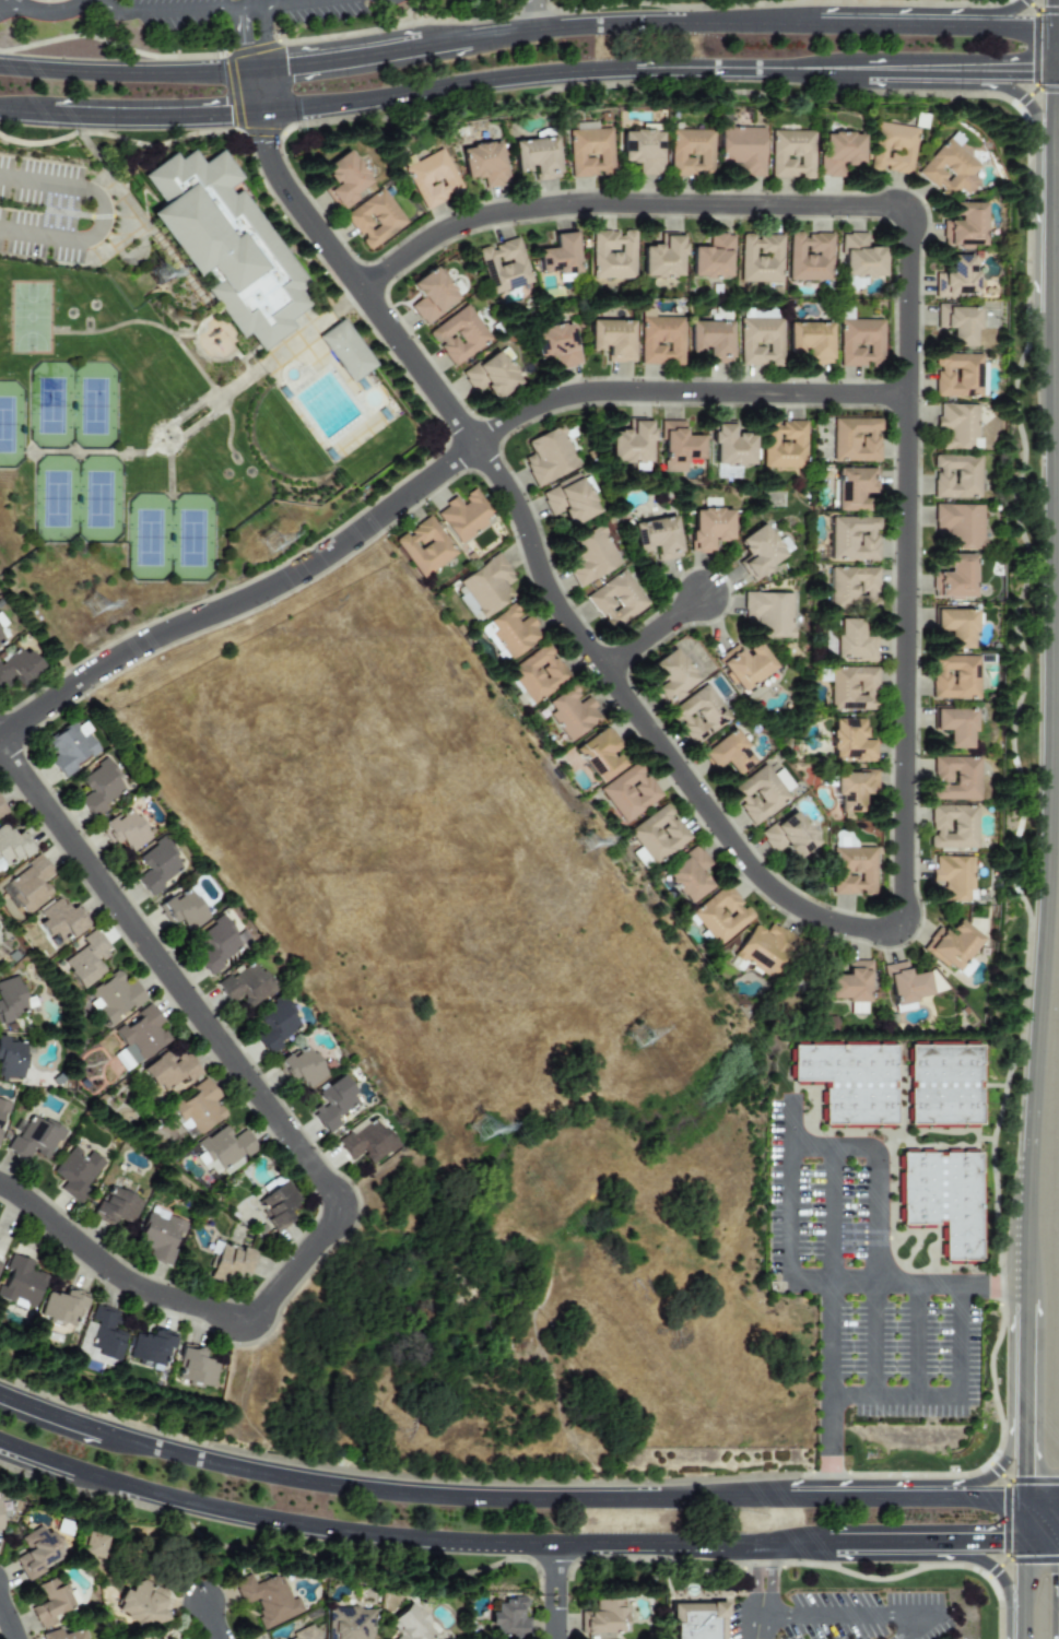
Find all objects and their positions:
road: (11, 3)
road: (243, 4)
traffic signals: (1050, 4)
road: (267, 5)
road: (316, 5)
road: (170, 10)
road: (254, 10)
road: (999, 12)
road: (1050, 12)
road: (45, 13)
road: (540, 13)
road: (642, 21)
road: (896, 23)
road: (1013, 24)
road: (1055, 26)
park: (75, 30)
road: (444, 40)
road: (264, 42)
road: (243, 43)
road: (1050, 48)
road: (339, 57)
traffic signals: (286, 66)
road: (1055, 69)
road: (620, 70)
road: (128, 71)
road: (1015, 71)
traffic signals: (1031, 72)
road: (260, 92)
road: (1026, 105)
traffic signals: (223, 115)
road: (1050, 115)
road: (130, 117)
traffic signals: (266, 143)
building: (891, 149)
building: (741, 150)
building: (588, 151)
building: (642, 151)
building: (690, 153)
building: (837, 153)
building: (790, 154)
building: (536, 157)
building: (483, 164)
building: (950, 168)
building: (343, 179)
building: (432, 179)
road: (626, 204)
road: (103, 216)
building: (374, 220)
building: (964, 225)
road: (1052, 236)
building: (226, 241)
building: (612, 255)
building: (558, 256)
building: (811, 257)
building: (861, 257)
building: (663, 258)
building: (713, 258)
building: (762, 258)
building: (503, 266)
power tower: (163, 274)
building: (956, 278)
building: (430, 295)
building: (760, 314)
park: (30, 317)
building: (957, 323)
road: (1055, 334)
building: (458, 335)
building: (611, 340)
building: (659, 340)
building: (710, 340)
building: (761, 342)
building: (810, 342)
building: (860, 343)
building: (555, 345)
building: (345, 351)
building: (491, 376)
building: (956, 376)
park: (95, 403)
park: (51, 404)
road: (1055, 405)
park: (10, 424)
building: (957, 426)
building: (855, 439)
building: (629, 444)
building: (784, 445)
building: (676, 447)
building: (548, 457)
road: (1057, 468)
building: (956, 476)
road: (427, 480)
building: (852, 487)
park: (58, 500)
building: (567, 500)
park: (103, 502)
building: (463, 515)
building: (958, 526)
building: (708, 529)
park: (149, 535)
park: (192, 538)
building: (655, 538)
building: (852, 539)
power tower: (273, 544)
building: (424, 546)
building: (760, 551)
building: (589, 556)
road: (906, 568)
road: (540, 569)
building: (954, 577)
building: (487, 586)
building: (852, 589)
building: (615, 600)
building: (467, 604)
power tower: (95, 606)
building: (769, 614)
building: (955, 627)
road: (656, 632)
building: (507, 634)
building: (1, 639)
building: (852, 641)
building: (745, 665)
building: (17, 668)
building: (538, 673)
building: (670, 675)
building: (954, 677)
building: (851, 688)
building: (572, 714)
building: (697, 715)
building: (955, 727)
building: (849, 741)
building: (70, 747)
building: (727, 753)
building: (598, 755)
building: (955, 778)
building: (783, 780)
building: (99, 788)
building: (852, 789)
building: (627, 792)
building: (756, 795)
building: (1, 811)
building: (953, 827)
building: (125, 830)
building: (657, 834)
building: (788, 836)
power tower: (585, 846)
building: (12, 847)
building: (157, 868)
building: (852, 871)
building: (686, 875)
building: (953, 877)
road: (1043, 880)
building: (27, 885)
building: (183, 910)
building: (720, 915)
building: (61, 921)
building: (951, 945)
building: (217, 946)
building: (763, 948)
building: (86, 959)
building: (965, 967)
building: (933, 981)
building: (246, 986)
building: (851, 987)
building: (904, 987)
building: (115, 998)
building: (10, 1000)
building: (275, 1025)
building: (138, 1038)
power tower: (638, 1039)
building: (11, 1059)
building: (299, 1066)
building: (169, 1072)
building: (858, 1081)
building: (952, 1084)
building: (333, 1105)
building: (197, 1108)
building: (3, 1109)
power tower: (484, 1128)
building: (33, 1139)
building: (366, 1141)
building: (222, 1149)
road: (292, 1152)
road: (879, 1154)
building: (77, 1172)
building: (952, 1199)
building: (278, 1205)
building: (114, 1207)
road: (790, 1215)
building: (158, 1236)
building: (0, 1263)
building: (232, 1264)
building: (20, 1283)
road: (907, 1287)
building: (61, 1307)
road: (831, 1324)
building: (98, 1335)
road: (873, 1342)
road: (915, 1343)
building: (149, 1347)
road: (1024, 1364)
building: (192, 1366)
road: (945, 1398)
road: (995, 1470)
traffic signals: (1023, 1474)
road: (1023, 1483)
road: (387, 1493)
road: (1040, 1498)
road: (869, 1499)
road: (982, 1499)
road: (1020, 1499)
road: (405, 1537)
road: (1039, 1541)
road: (829, 1542)
road: (887, 1542)
road: (981, 1542)
traffic signals: (992, 1543)
building: (93, 1545)
building: (35, 1553)
road: (995, 1572)
road: (1022, 1584)
road: (554, 1591)
road: (762, 1591)
building: (266, 1599)
building: (48, 1603)
building: (140, 1603)
road: (863, 1614)
building: (508, 1618)
building: (603, 1618)
road: (208, 1620)
building: (348, 1624)
building: (409, 1624)
road: (5, 1626)
building: (702, 1628)
building: (304, 1634)
road: (1021, 1634)
building: (60, 1635)

